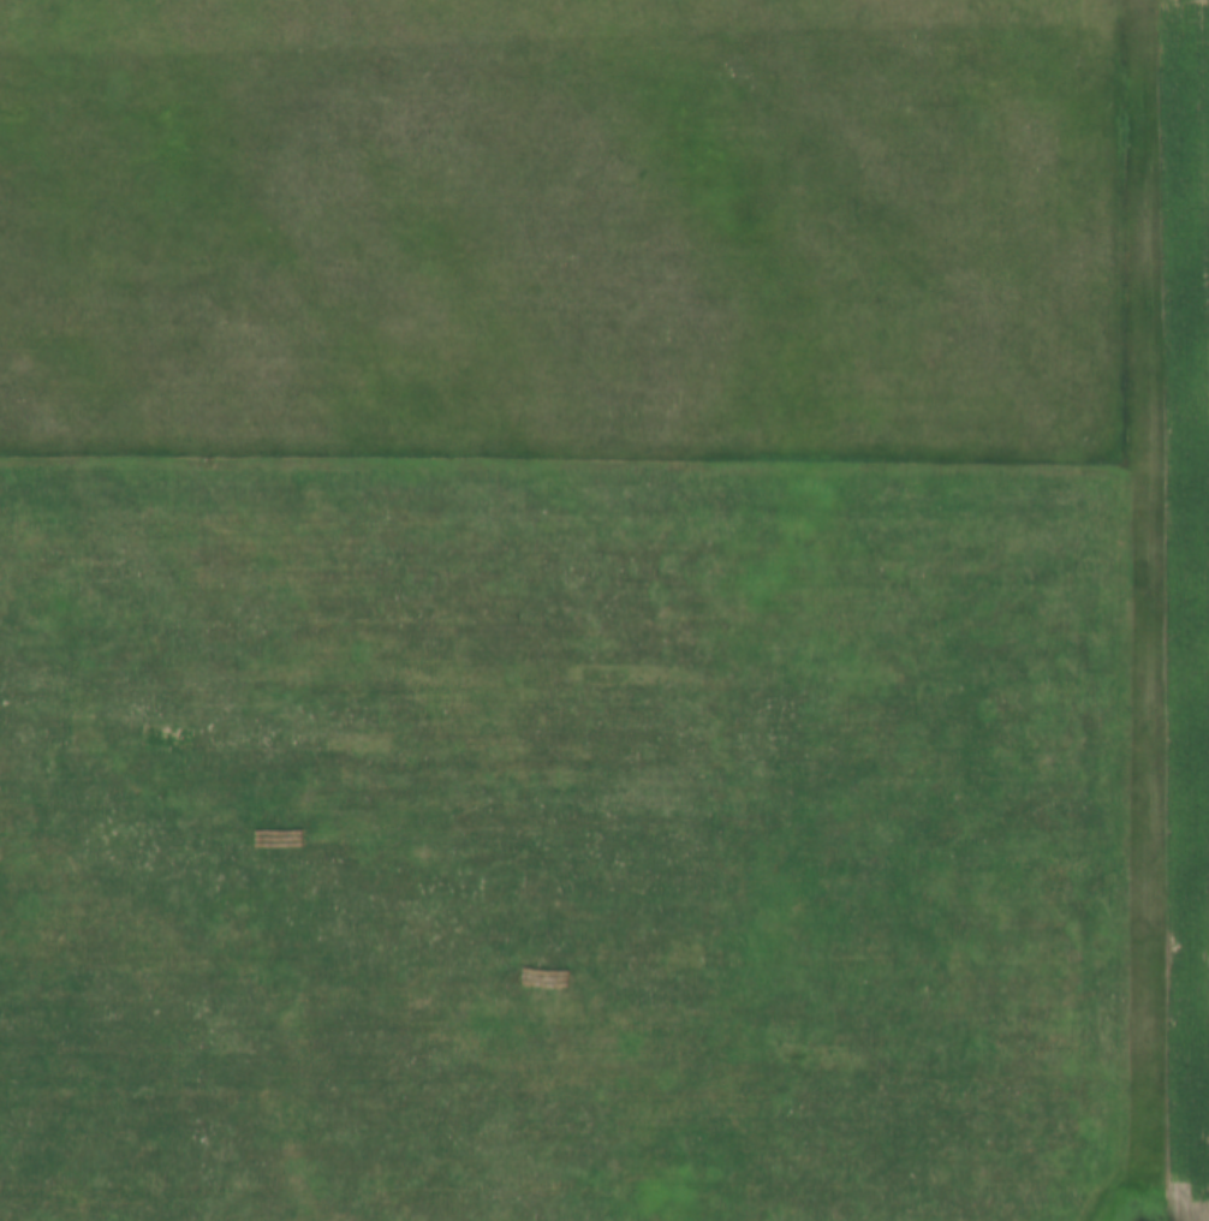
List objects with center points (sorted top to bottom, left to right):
road: (1148, 617)

